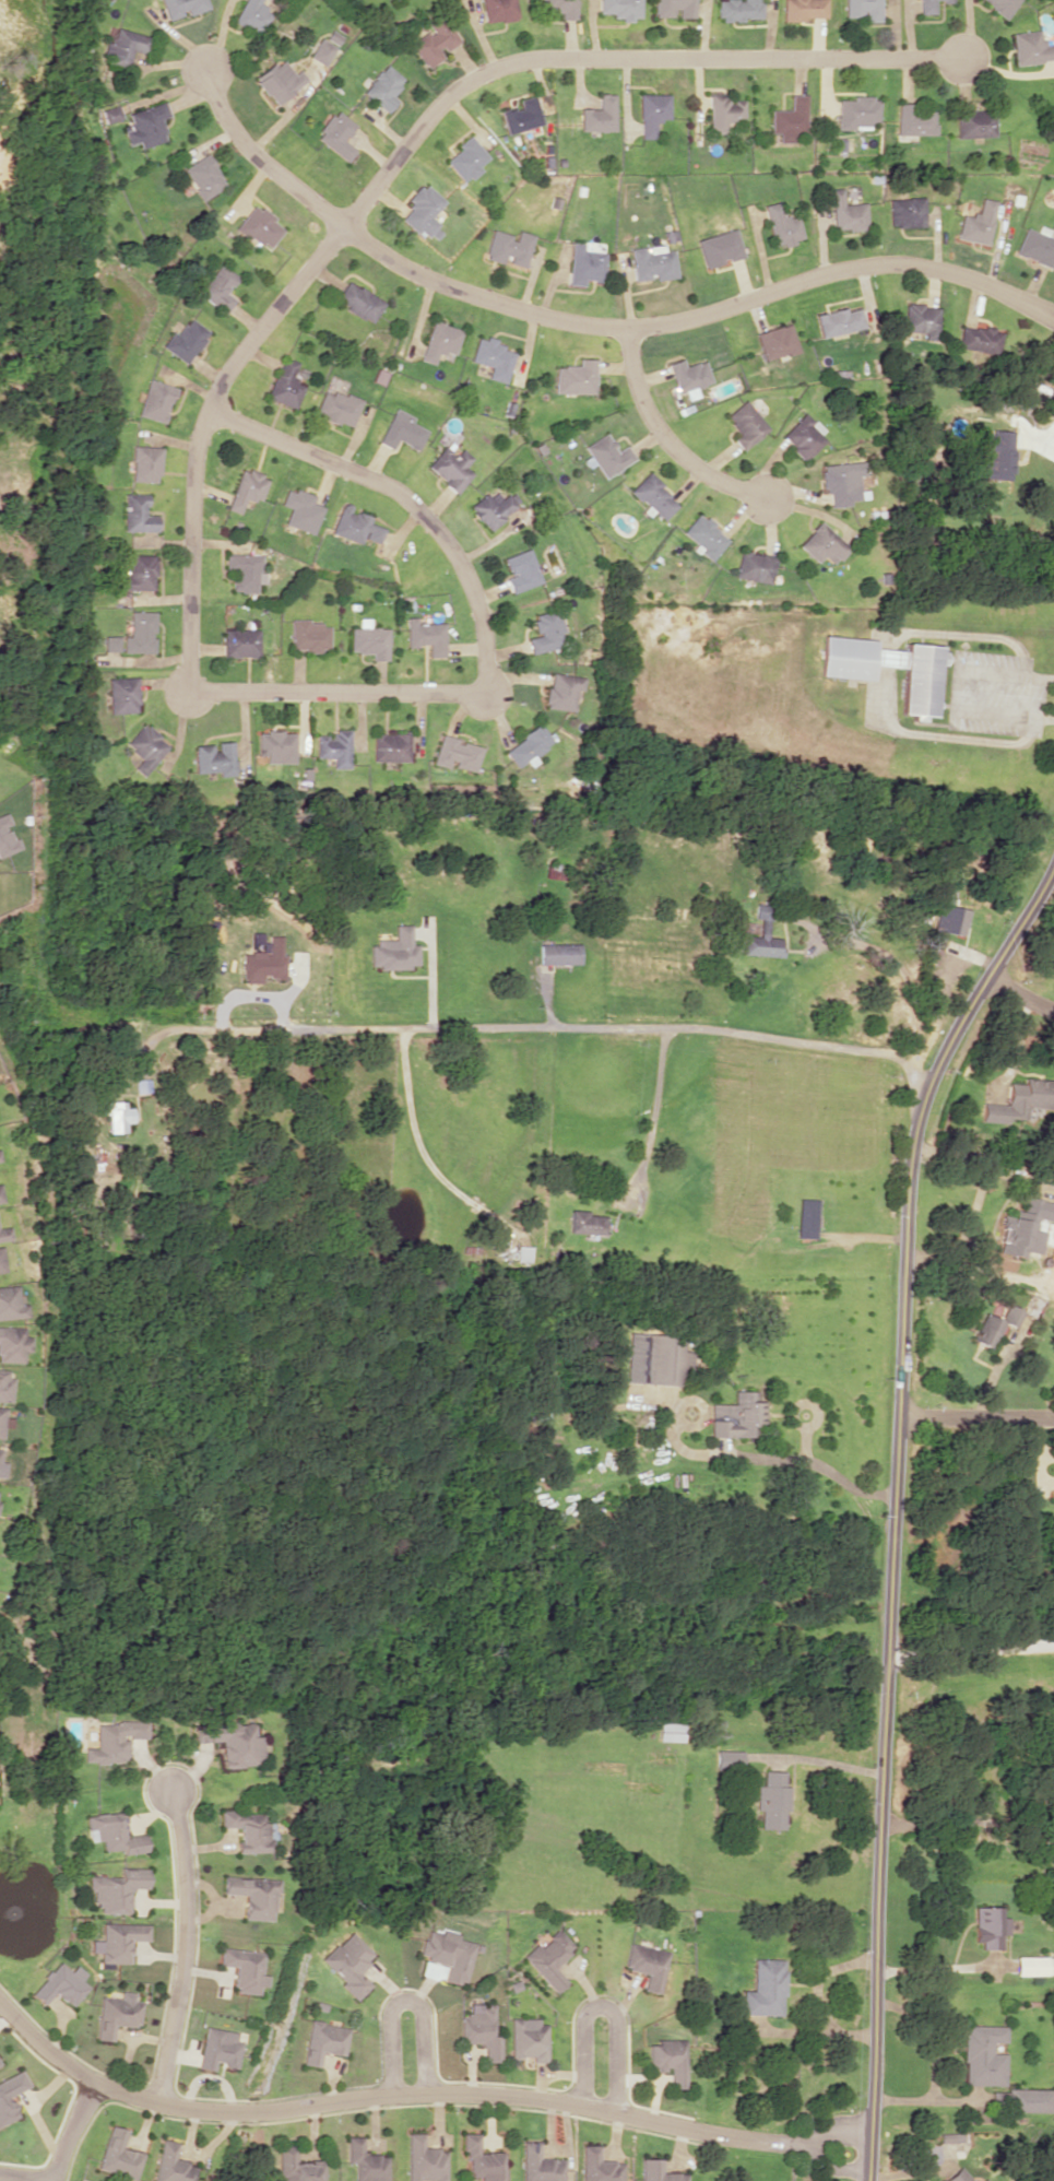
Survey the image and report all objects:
building: (924, 5)
building: (1000, 5)
building: (181, 7)
building: (558, 8)
building: (620, 8)
building: (673, 8)
building: (736, 9)
building: (801, 9)
building: (860, 9)
building: (496, 10)
building: (252, 15)
building: (333, 36)
building: (431, 40)
building: (125, 46)
building: (1030, 47)
building: (322, 50)
building: (277, 80)
building: (384, 87)
building: (650, 111)
building: (723, 111)
building: (857, 111)
building: (110, 114)
building: (596, 114)
building: (520, 115)
building: (790, 119)
building: (914, 120)
building: (974, 122)
building: (145, 125)
building: (335, 134)
building: (465, 158)
building: (202, 176)
building: (422, 210)
building: (846, 212)
building: (905, 212)
building: (976, 222)
building: (781, 225)
building: (258, 226)
building: (507, 247)
building: (719, 247)
building: (1034, 247)
building: (652, 262)
building: (583, 264)
building: (218, 287)
building: (357, 300)
building: (920, 318)
road: (589, 321)
building: (838, 321)
building: (976, 338)
building: (185, 339)
building: (439, 341)
building: (777, 341)
building: (493, 357)
building: (687, 376)
building: (576, 377)
building: (285, 384)
building: (153, 400)
building: (335, 406)
building: (744, 423)
building: (401, 431)
building: (802, 436)
road: (665, 438)
building: (608, 455)
building: (996, 455)
road: (196, 459)
building: (143, 463)
building: (450, 467)
building: (840, 481)
building: (246, 488)
building: (654, 496)
building: (495, 507)
building: (301, 509)
building: (135, 514)
building: (354, 524)
building: (704, 535)
building: (822, 544)
building: (755, 566)
building: (245, 570)
building: (521, 570)
building: (137, 573)
building: (138, 632)
building: (544, 632)
building: (309, 635)
building: (425, 635)
building: (368, 641)
building: (108, 642)
building: (239, 642)
building: (920, 676)
building: (560, 691)
building: (120, 694)
building: (275, 745)
building: (392, 745)
building: (526, 745)
building: (143, 746)
building: (335, 747)
building: (458, 752)
building: (212, 757)
building: (5, 836)
building: (950, 919)
building: (761, 936)
building: (393, 950)
building: (558, 953)
building: (263, 962)
road: (1018, 995)
road: (552, 1028)
building: (1022, 1100)
building: (116, 1115)
building: (0, 1159)
building: (0, 1195)
building: (806, 1217)
building: (585, 1223)
building: (1022, 1226)
building: (4, 1233)
building: (1, 1261)
building: (11, 1302)
building: (1009, 1315)
building: (985, 1330)
building: (12, 1343)
building: (654, 1358)
building: (4, 1386)
building: (737, 1416)
road: (975, 1416)
building: (3, 1419)
road: (893, 1502)
building: (668, 1731)
building: (112, 1741)
building: (232, 1743)
building: (726, 1759)
building: (771, 1800)
building: (247, 1829)
building: (112, 1832)
building: (115, 1889)
building: (251, 1896)
building: (990, 1926)
building: (116, 1941)
road: (185, 1947)
building: (447, 1953)
building: (548, 1958)
building: (346, 1962)
building: (647, 1965)
building: (1034, 1965)
building: (241, 1969)
building: (60, 1984)
building: (763, 1988)
road: (403, 1996)
road: (603, 2007)
building: (115, 2013)
building: (479, 2029)
building: (528, 2039)
building: (321, 2041)
building: (216, 2048)
building: (983, 2054)
building: (668, 2060)
road: (416, 2096)
building: (1021, 2099)
building: (5, 2106)
road: (67, 2129)
building: (950, 2136)
building: (116, 2154)
building: (423, 2159)
building: (482, 2160)
building: (364, 2161)
building: (169, 2165)
building: (540, 2165)
building: (296, 2166)
building: (599, 2166)
building: (658, 2171)
road: (26, 2176)
building: (956, 2176)
building: (982, 2180)

